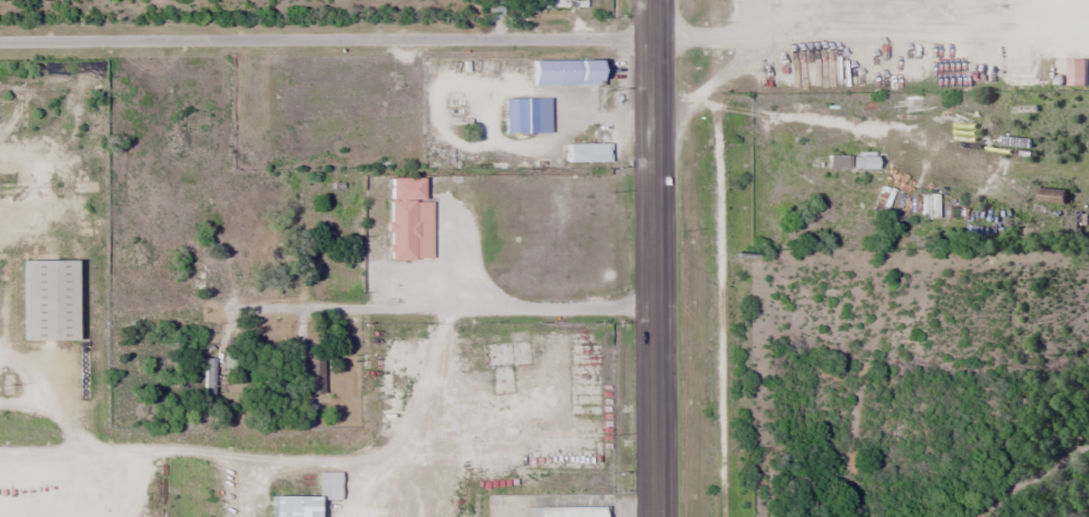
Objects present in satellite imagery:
building: (495, 9)
road: (812, 15)
road: (711, 35)
road: (326, 38)
building: (564, 72)
building: (320, 79)
road: (715, 84)
building: (526, 115)
building: (188, 137)
building: (307, 140)
road: (921, 142)
building: (587, 152)
building: (837, 162)
building: (862, 162)
building: (1051, 196)
building: (823, 207)
building: (408, 220)
road: (653, 258)
railway: (720, 258)
building: (238, 260)
building: (46, 300)
road: (454, 309)
building: (313, 375)
building: (208, 378)
building: (293, 505)
building: (564, 510)

